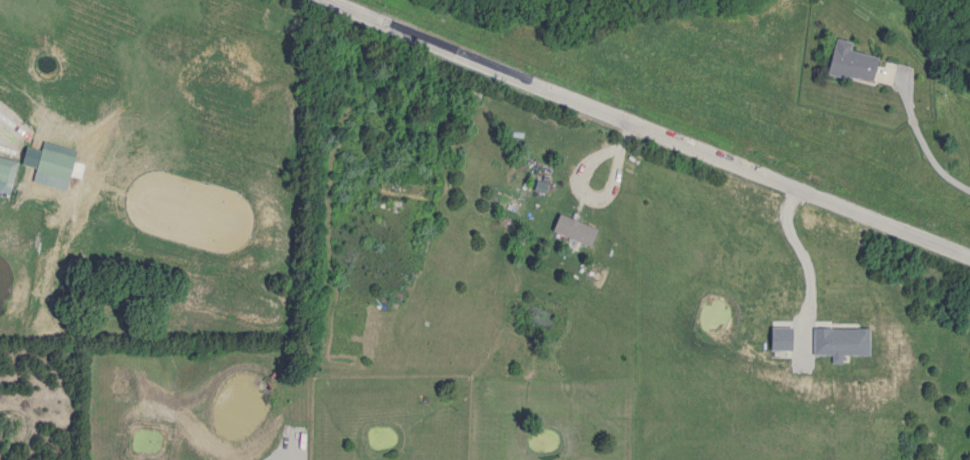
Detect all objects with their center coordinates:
building: (843, 62)
road: (647, 127)
road: (920, 142)
building: (57, 164)
building: (8, 169)
road: (578, 184)
building: (569, 230)
road: (799, 256)
road: (272, 459)

